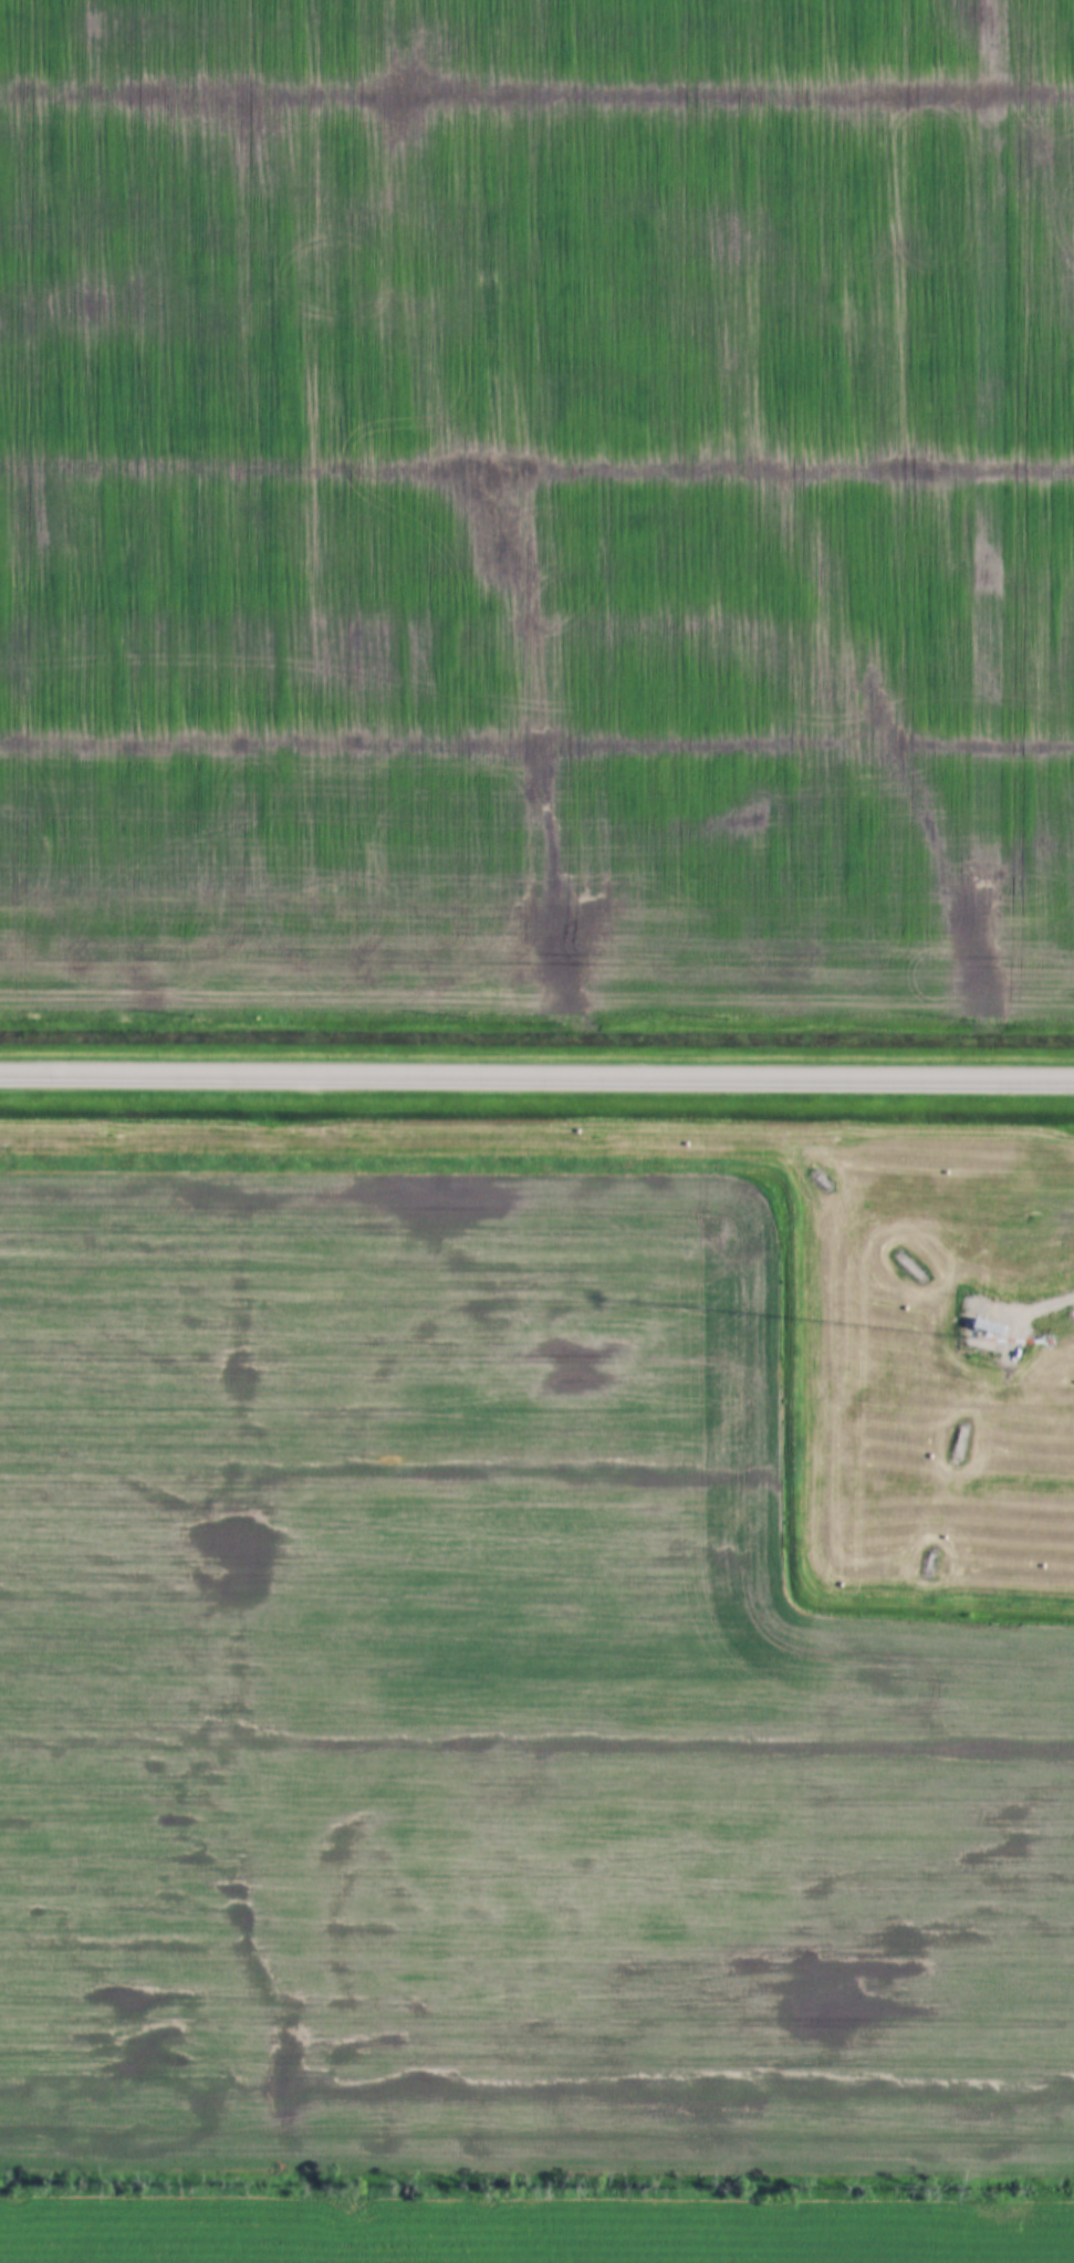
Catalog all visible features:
road: (536, 1077)
road: (1043, 1307)
building: (992, 1328)
crop: (489, 1755)

